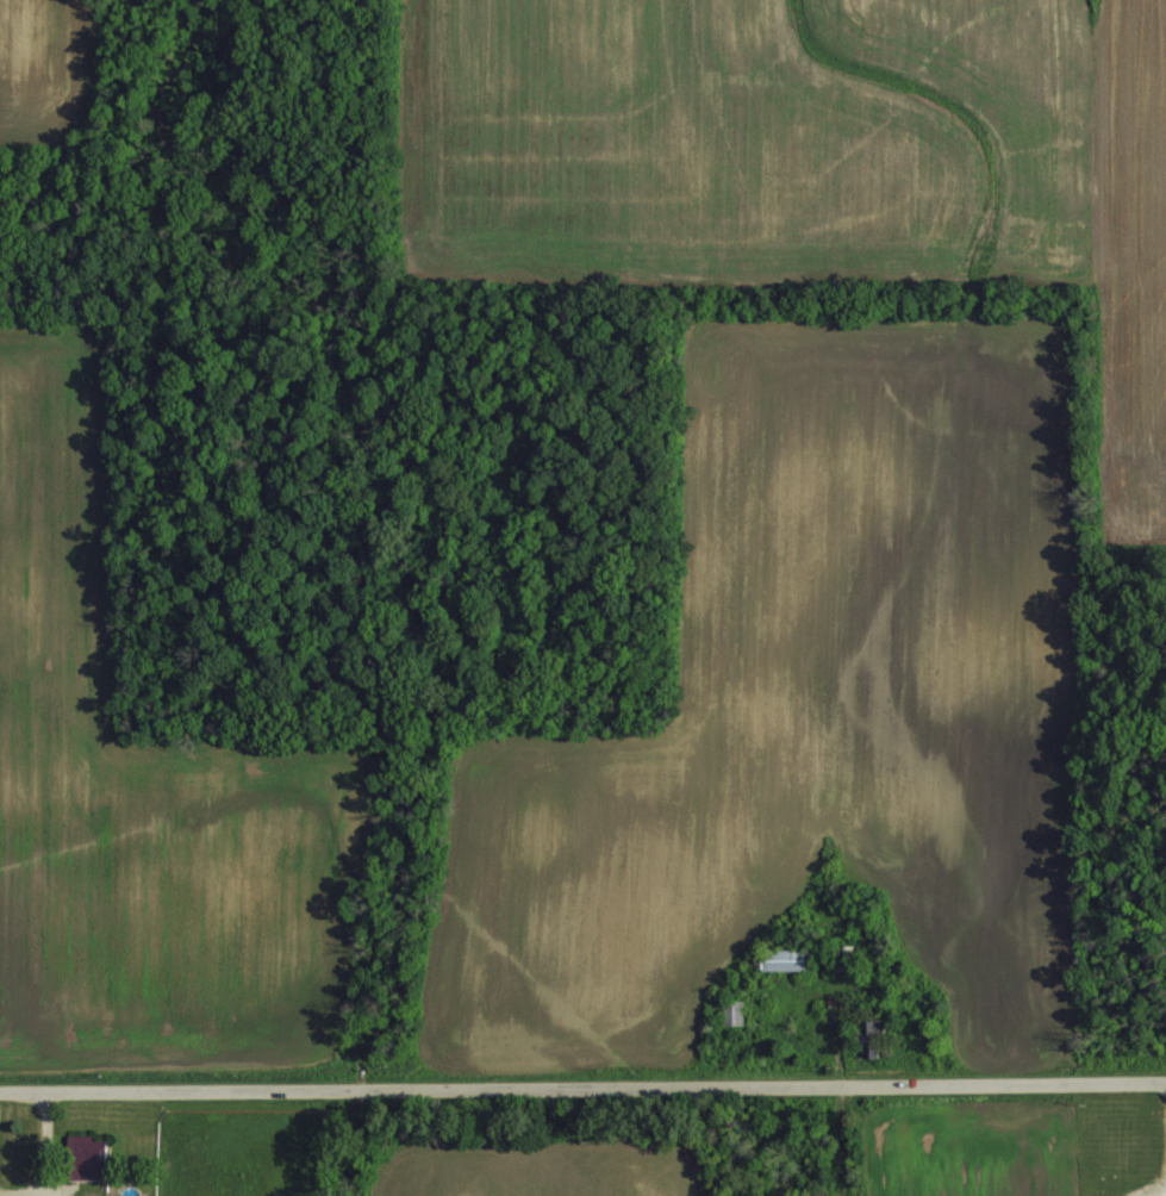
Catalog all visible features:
building: (784, 957)
road: (582, 1061)
road: (44, 1130)
building: (87, 1155)
road: (24, 1190)

